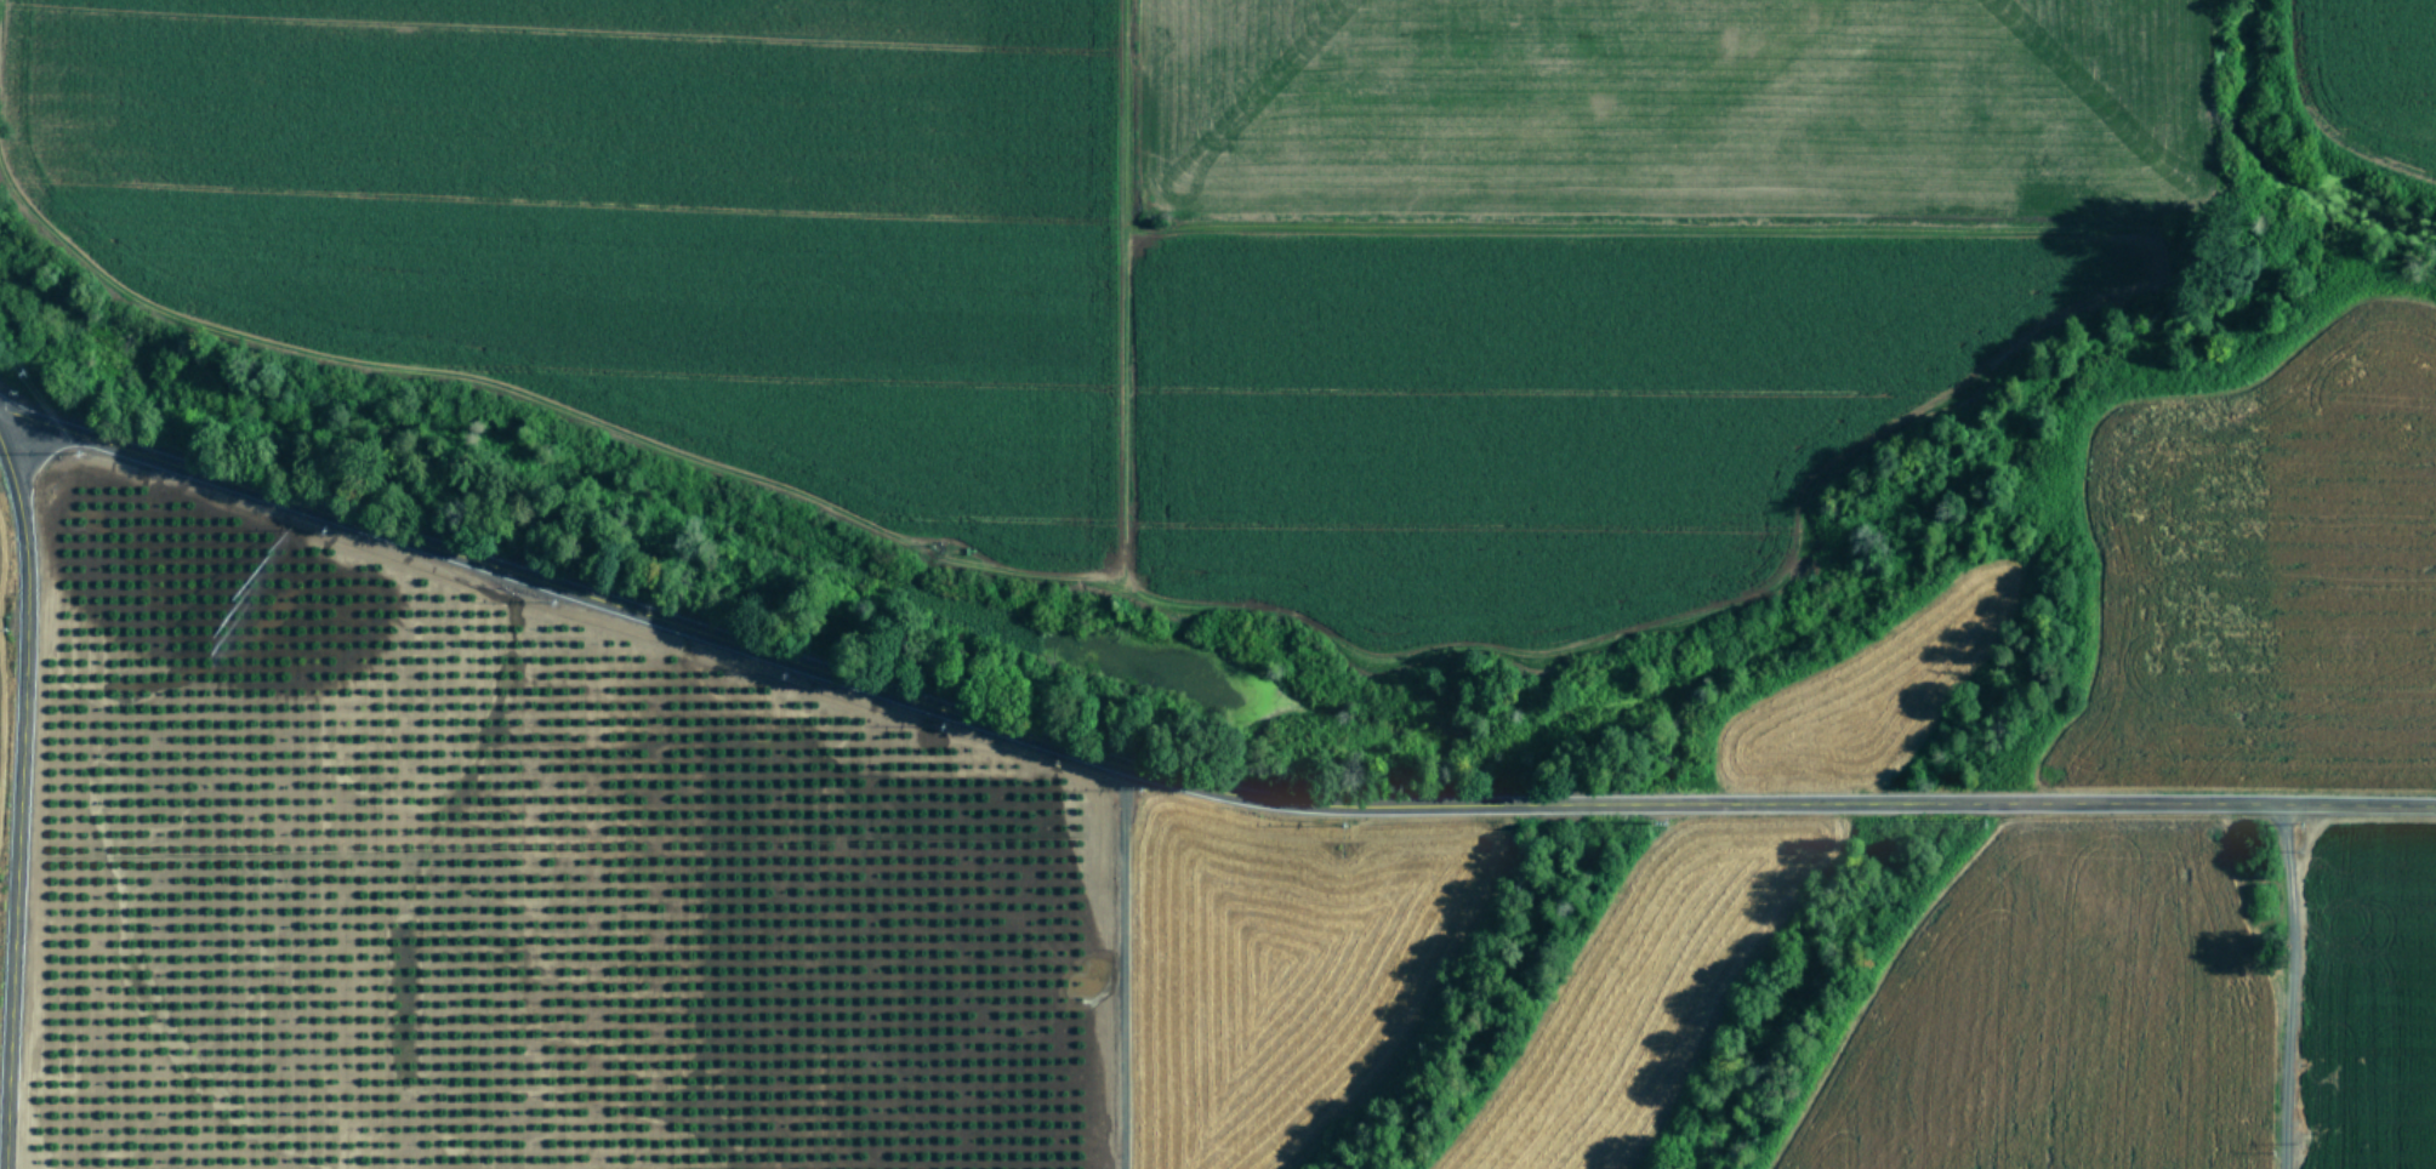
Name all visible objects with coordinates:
crop: (2377, 87)
crop: (1155, 257)
road: (1189, 782)
road: (18, 804)
crop: (2191, 825)
crop: (593, 867)
crop: (1701, 908)
road: (1122, 966)
road: (2293, 985)

